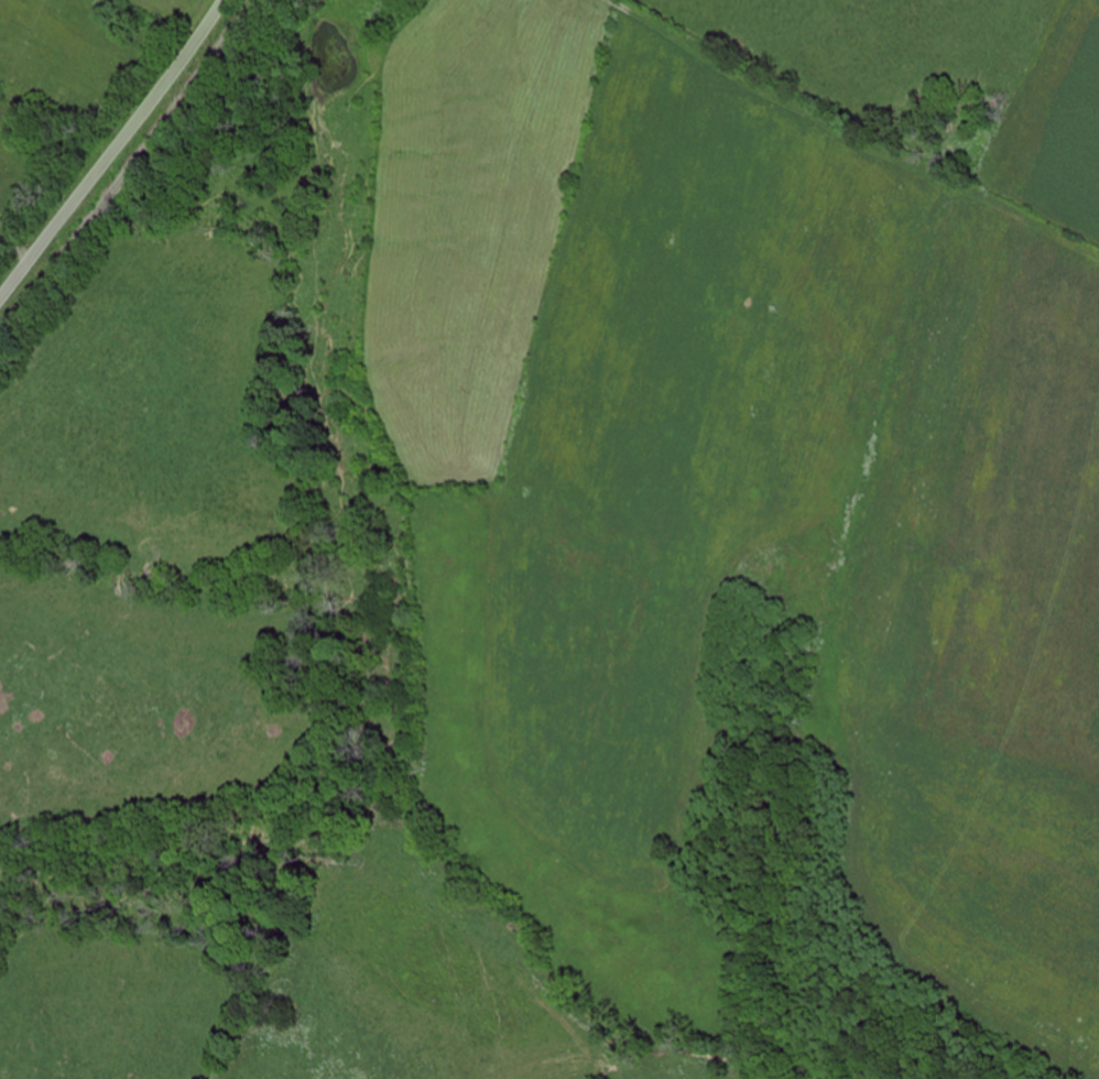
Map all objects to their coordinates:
road: (112, 150)
railway: (126, 167)

